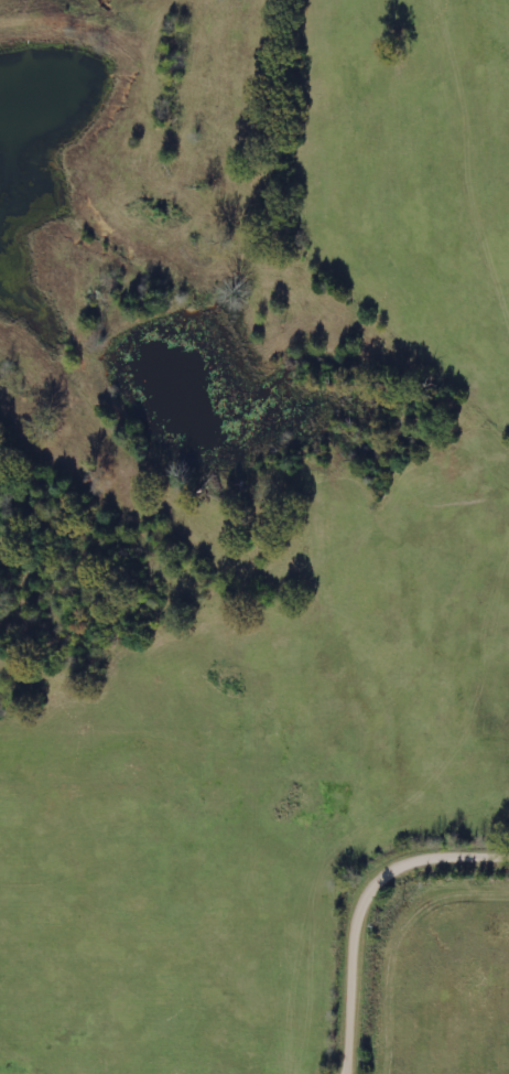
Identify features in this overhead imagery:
road: (370, 914)

